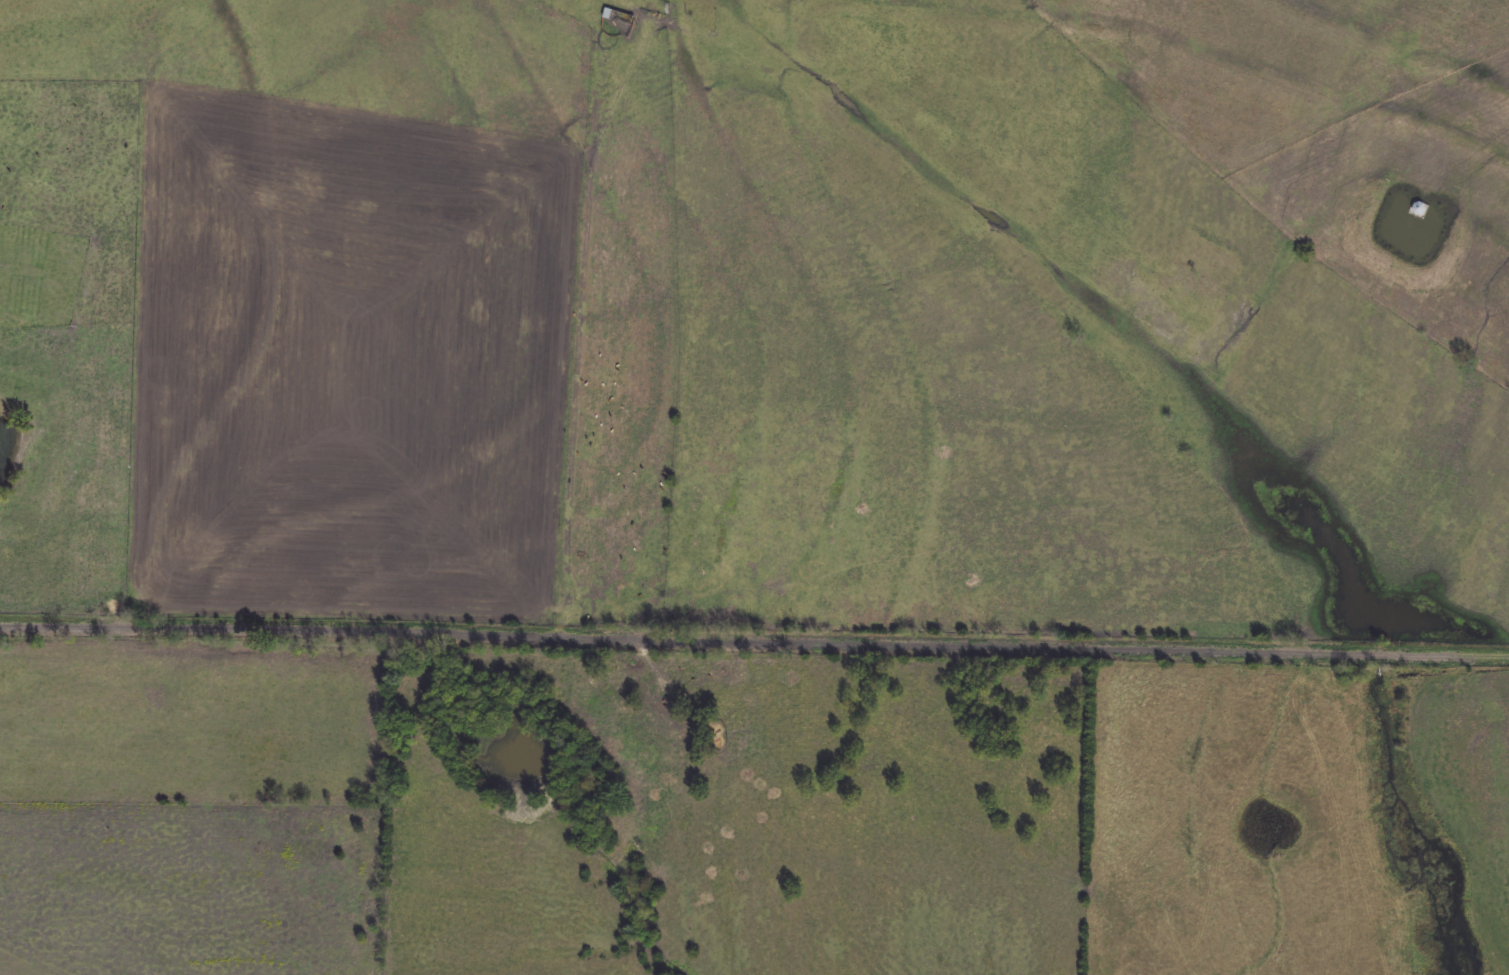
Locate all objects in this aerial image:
building: (620, 17)
building: (1420, 209)
road: (760, 463)
road: (754, 637)

